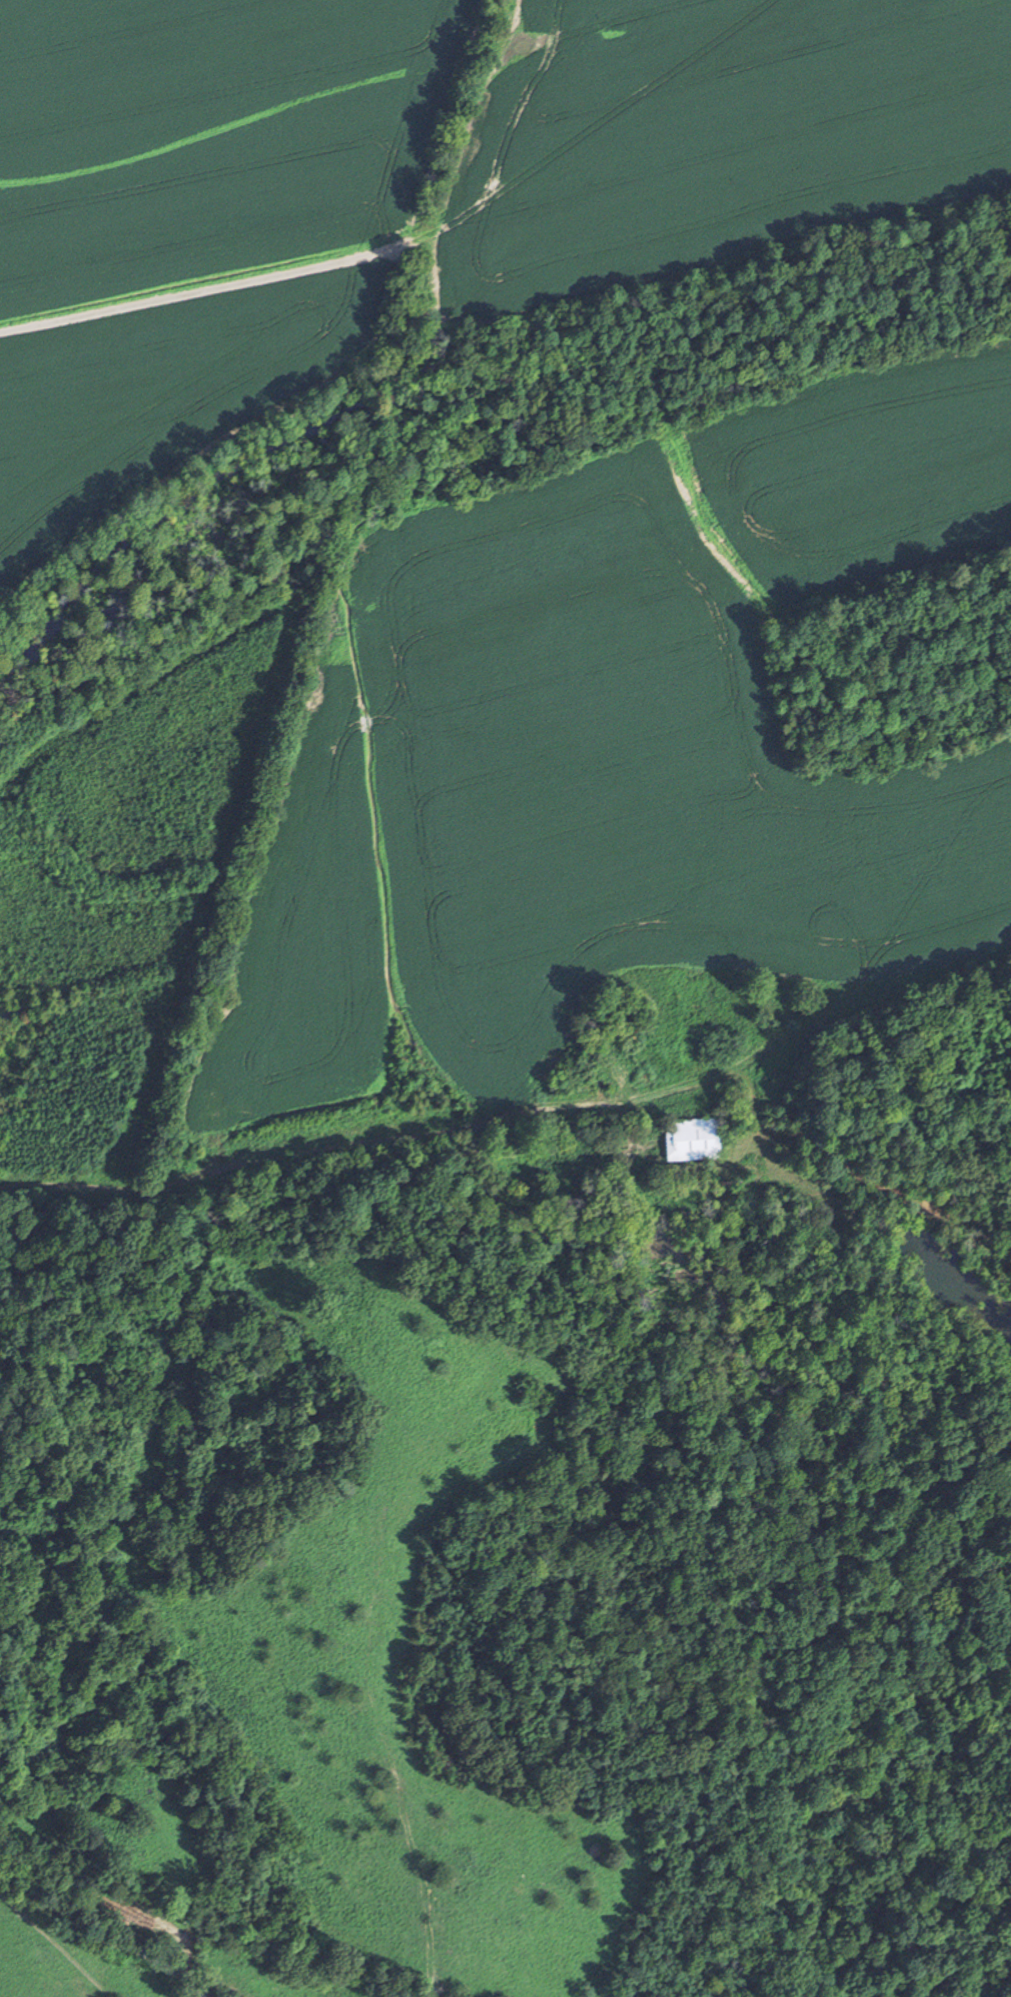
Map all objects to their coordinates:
road: (98, 1933)

